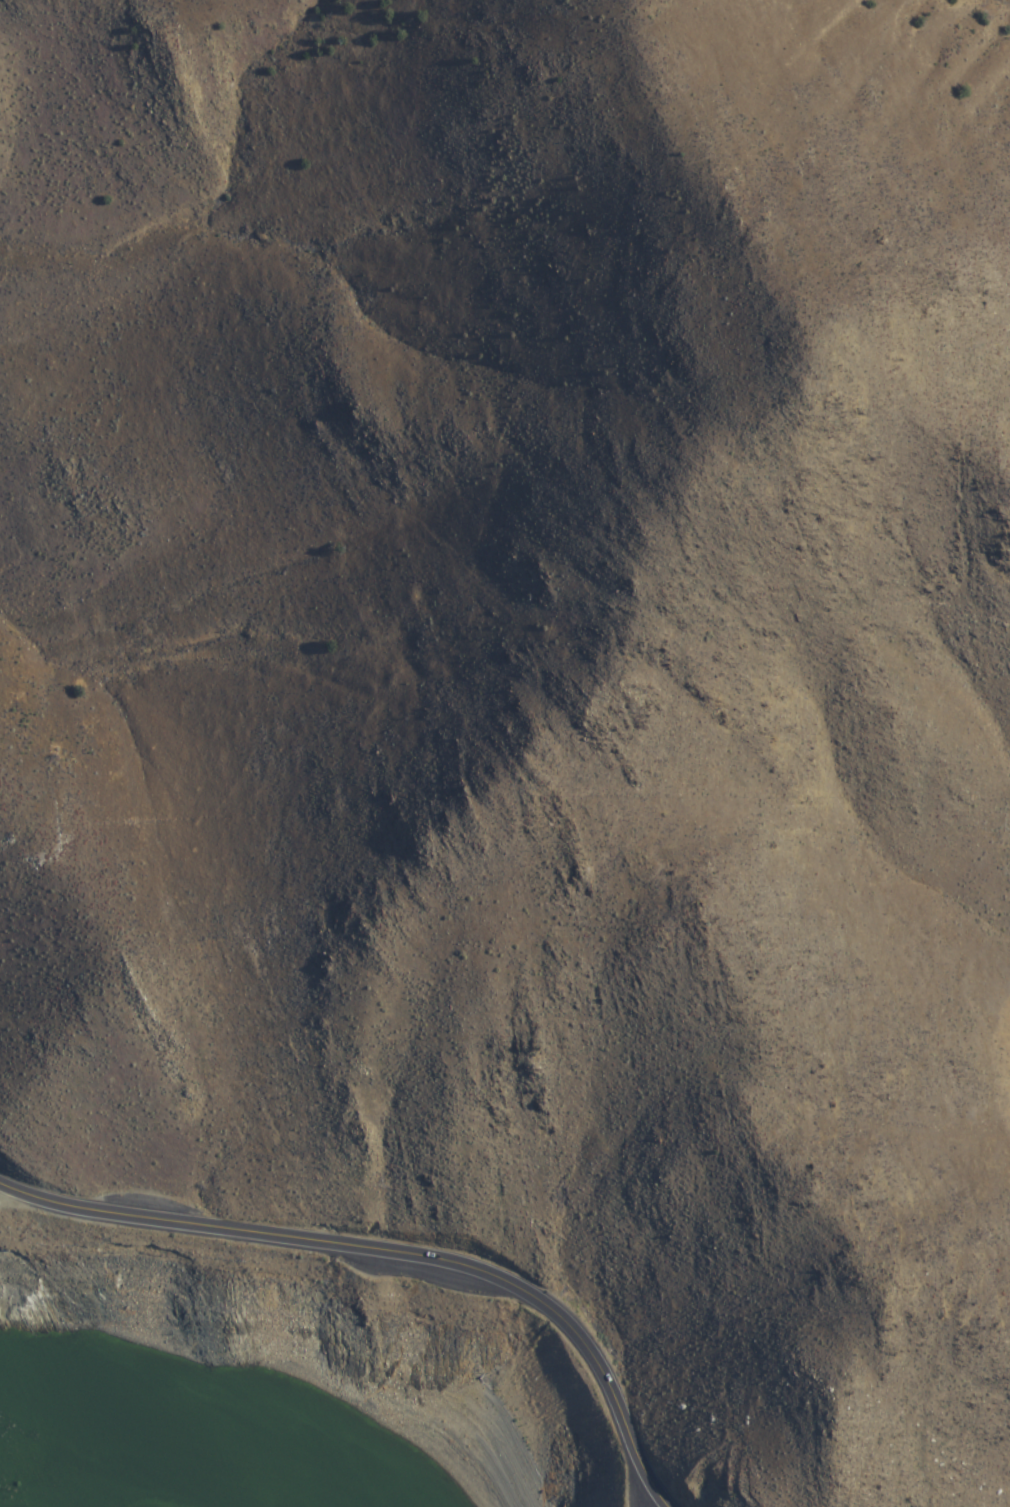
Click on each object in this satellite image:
road: (394, 1252)

